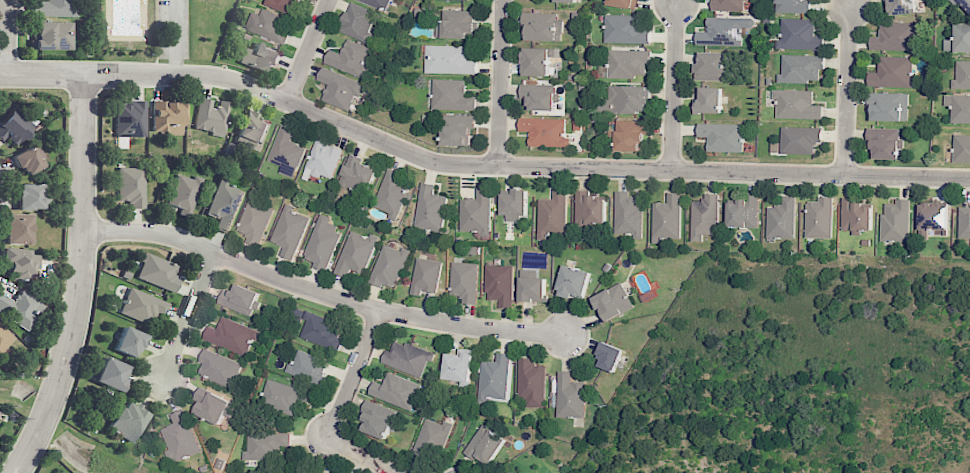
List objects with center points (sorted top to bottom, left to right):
building: (565, 1)
building: (377, 3)
building: (622, 3)
building: (962, 3)
building: (283, 4)
building: (727, 5)
building: (792, 6)
building: (901, 6)
building: (53, 8)
building: (357, 22)
building: (455, 23)
building: (268, 25)
building: (540, 26)
building: (624, 29)
building: (723, 31)
building: (799, 35)
building: (52, 36)
building: (895, 36)
road: (11, 37)
building: (958, 39)
road: (307, 51)
building: (259, 58)
building: (349, 58)
building: (448, 59)
building: (536, 61)
building: (627, 63)
building: (710, 66)
building: (800, 68)
building: (891, 72)
building: (961, 75)
road: (500, 83)
road: (674, 85)
building: (339, 88)
road: (849, 88)
building: (451, 95)
building: (540, 96)
building: (626, 99)
building: (707, 99)
building: (796, 104)
building: (888, 106)
building: (958, 107)
building: (168, 117)
building: (210, 117)
building: (130, 119)
building: (15, 126)
building: (457, 129)
building: (252, 130)
building: (544, 131)
building: (629, 134)
building: (722, 136)
building: (799, 139)
building: (884, 142)
building: (961, 148)
building: (286, 152)
building: (30, 159)
building: (322, 160)
road: (476, 165)
building: (357, 174)
building: (130, 186)
building: (184, 193)
building: (391, 193)
building: (30, 196)
building: (224, 204)
building: (514, 204)
building: (588, 208)
building: (429, 209)
building: (476, 212)
building: (743, 212)
building: (552, 214)
building: (627, 214)
building: (856, 216)
building: (704, 217)
building: (666, 218)
building: (818, 218)
building: (781, 219)
building: (255, 220)
building: (932, 220)
building: (895, 221)
building: (964, 222)
building: (17, 229)
building: (289, 231)
building: (322, 243)
building: (355, 253)
building: (21, 261)
building: (389, 266)
building: (158, 272)
building: (425, 275)
road: (82, 280)
building: (464, 281)
building: (572, 282)
building: (499, 284)
building: (532, 286)
road: (321, 293)
building: (239, 299)
building: (612, 302)
building: (142, 306)
building: (21, 308)
road: (190, 316)
building: (320, 331)
building: (232, 335)
building: (5, 337)
building: (128, 342)
building: (609, 356)
building: (407, 358)
building: (458, 365)
building: (307, 366)
building: (219, 368)
building: (111, 374)
building: (494, 378)
building: (530, 382)
building: (395, 391)
building: (281, 396)
building: (569, 397)
building: (210, 405)
road: (343, 407)
building: (377, 419)
building: (127, 420)
building: (180, 437)
building: (430, 440)
building: (265, 444)
building: (485, 444)
building: (323, 472)

